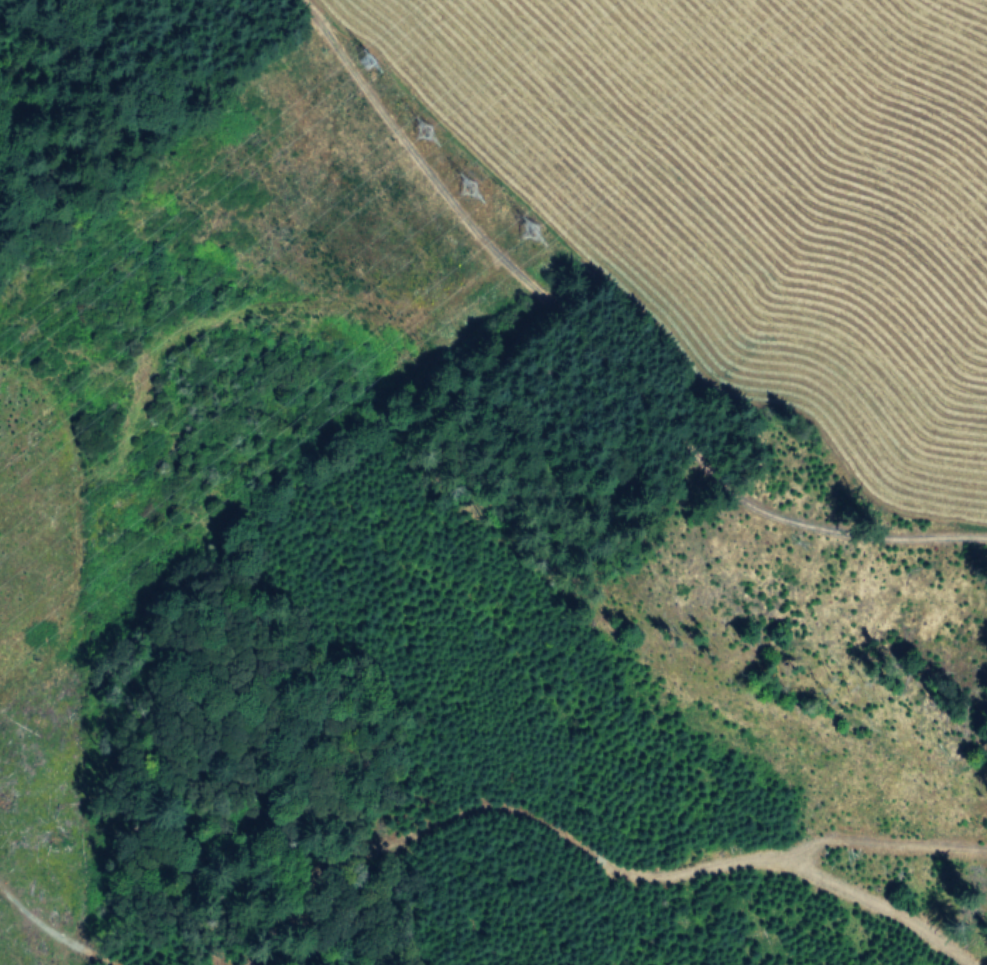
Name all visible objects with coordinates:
power tower: (367, 57)
power tower: (422, 128)
power tower: (468, 185)
crop: (740, 198)
power tower: (524, 230)

